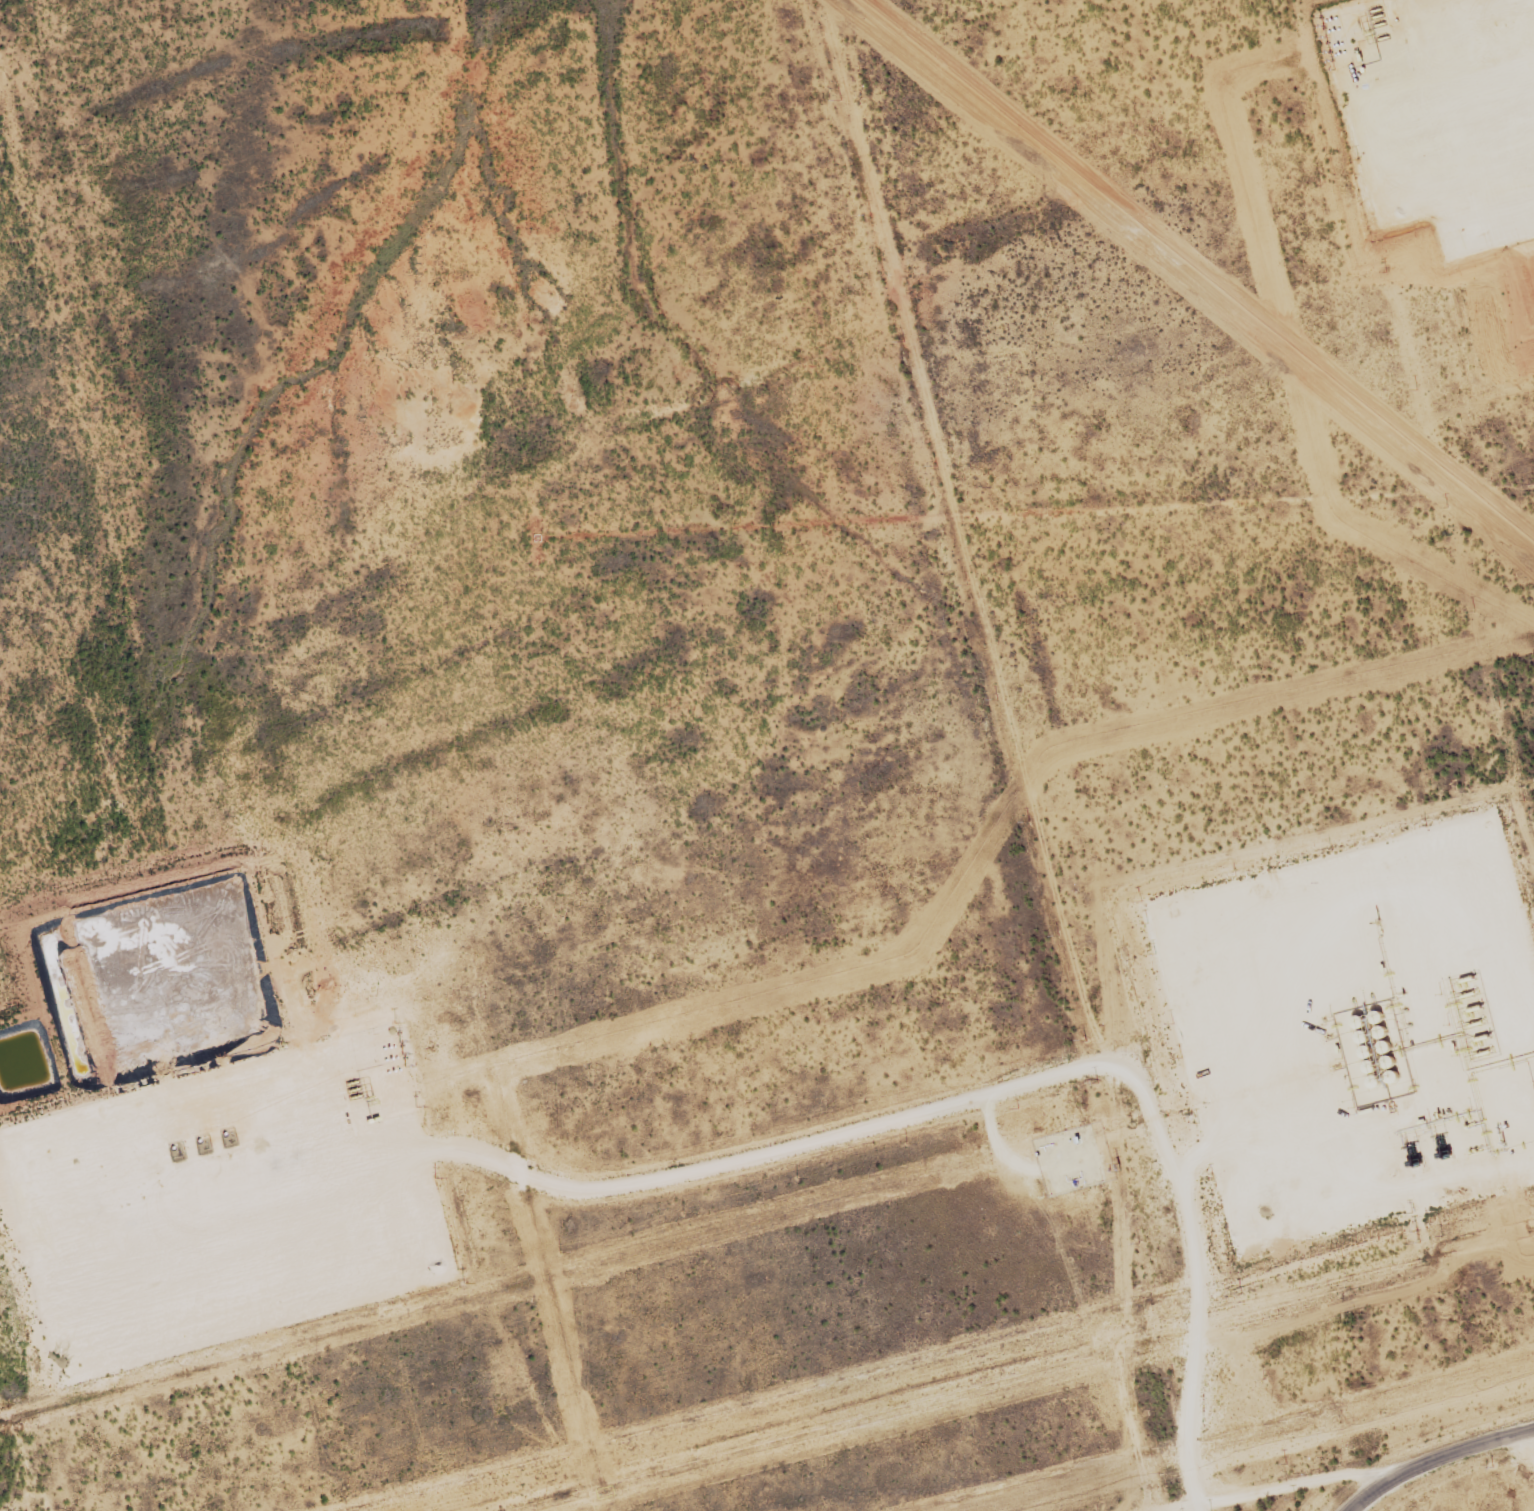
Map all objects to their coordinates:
road: (1442, 1485)

